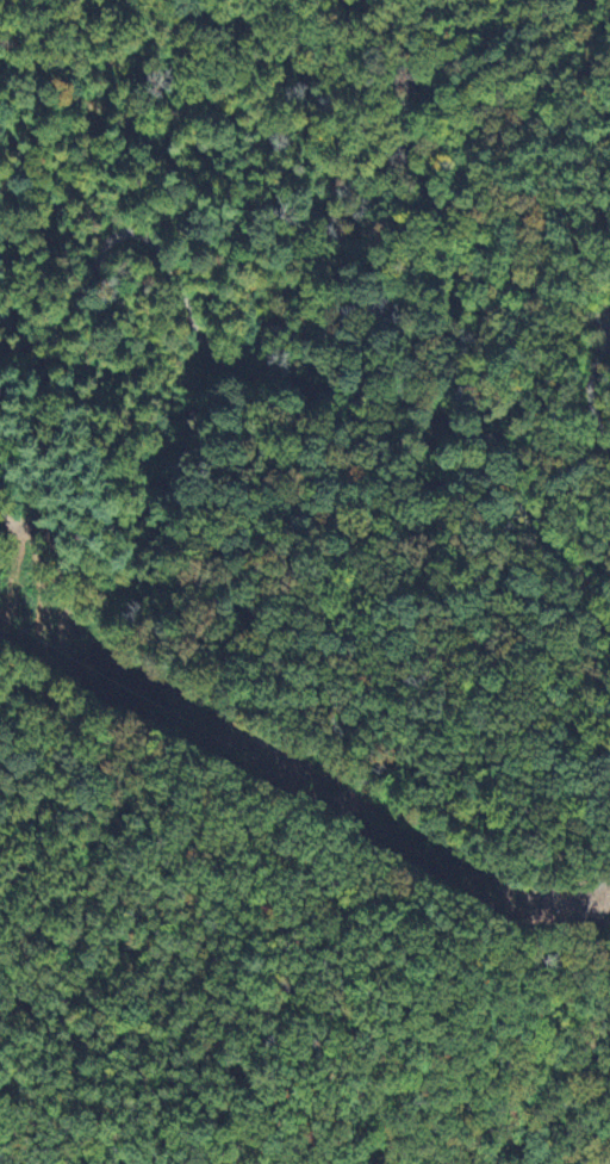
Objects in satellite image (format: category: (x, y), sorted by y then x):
road: (270, 374)

